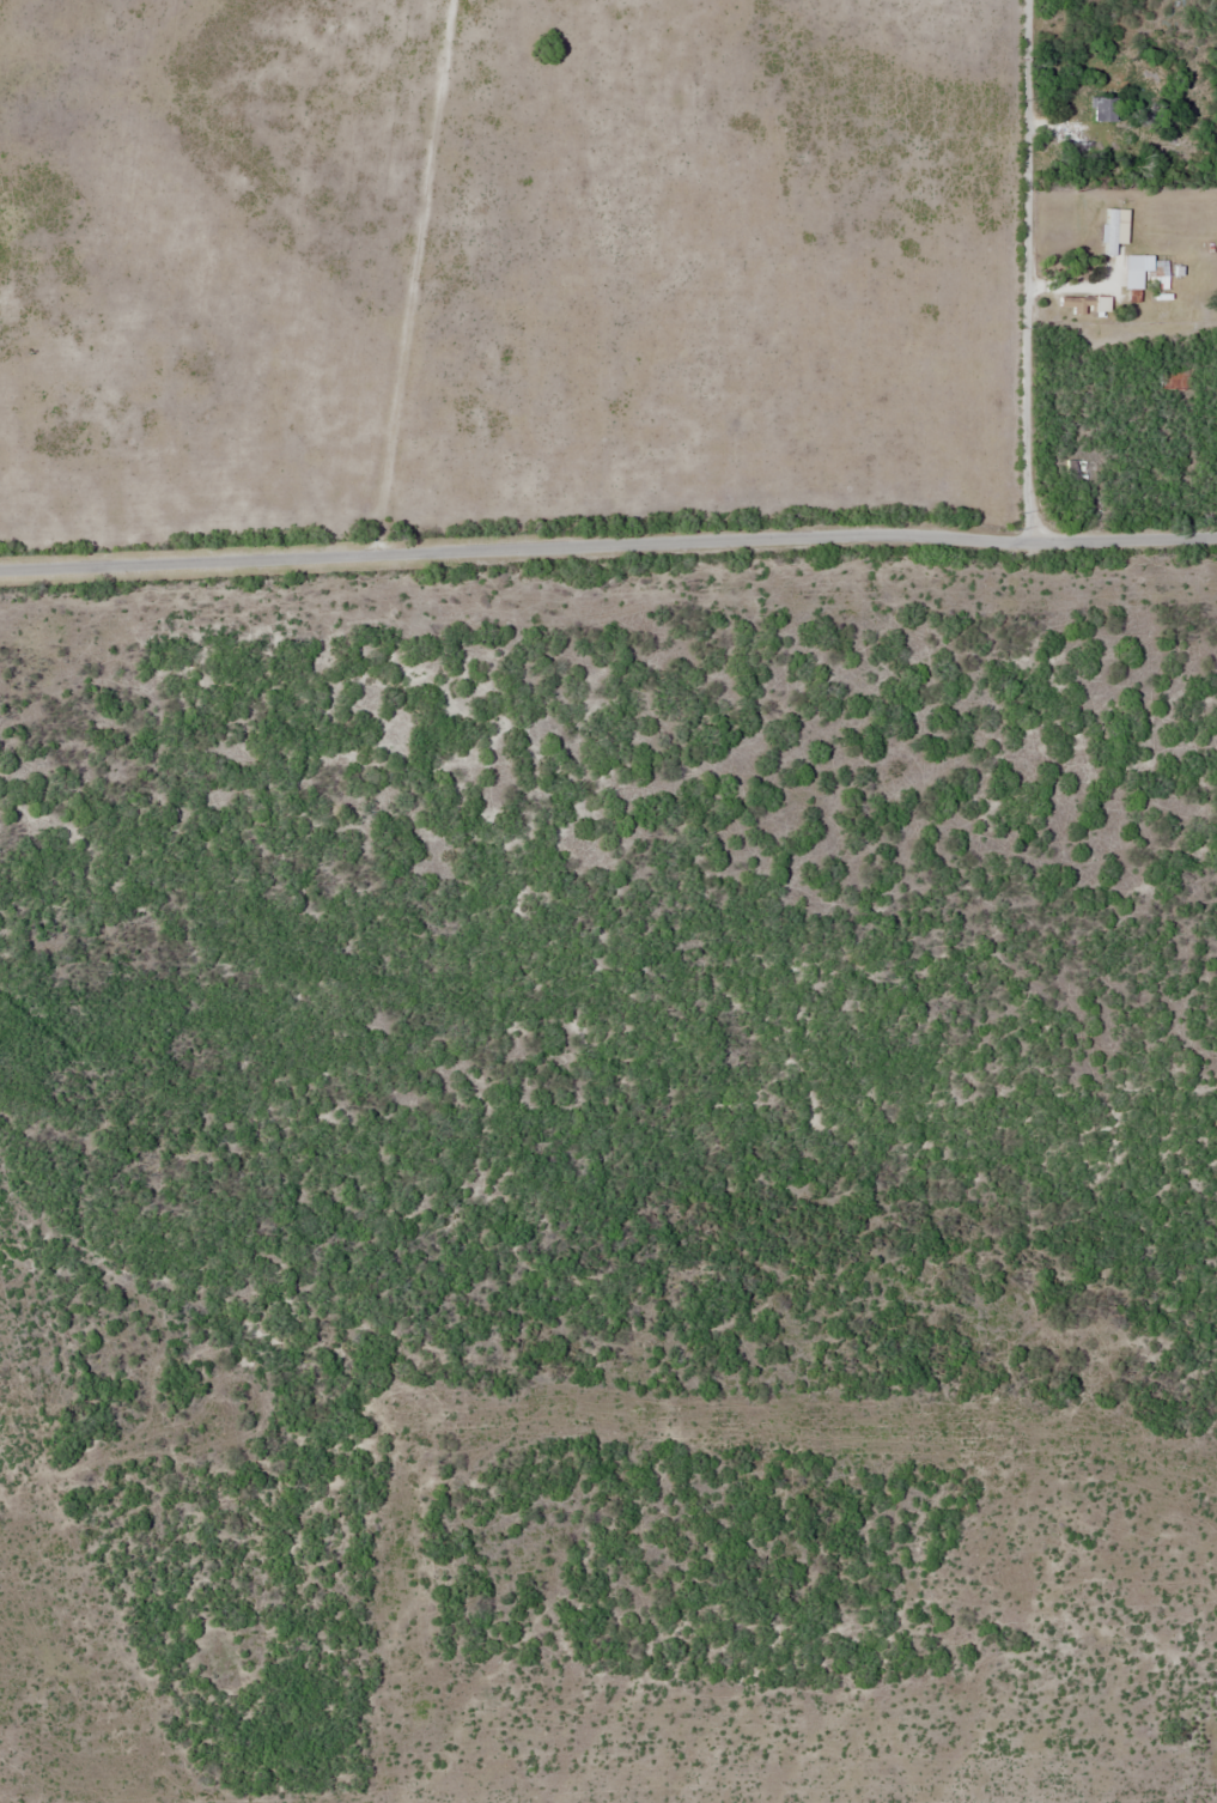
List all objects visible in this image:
building: (1101, 109)
building: (1110, 231)
building: (1157, 271)
road: (1029, 272)
building: (1133, 279)
building: (1090, 304)
road: (608, 544)

